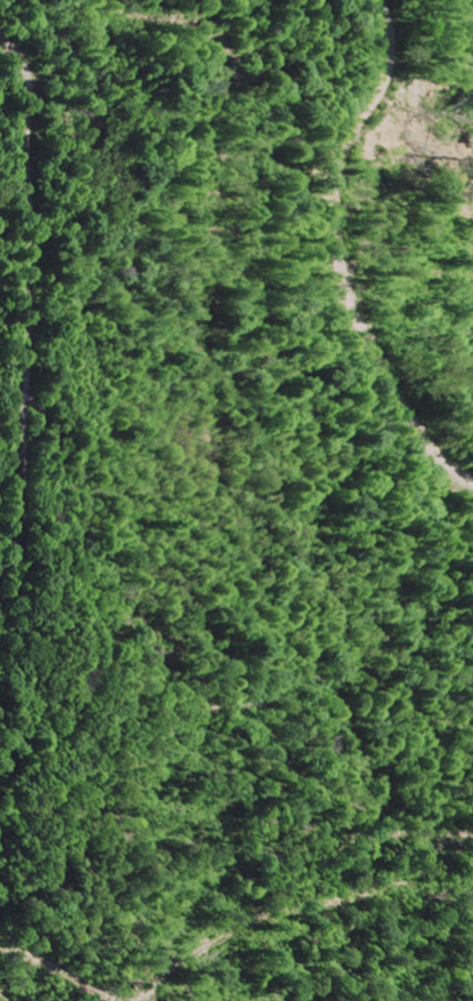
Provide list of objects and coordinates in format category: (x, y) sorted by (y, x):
road: (350, 250)

